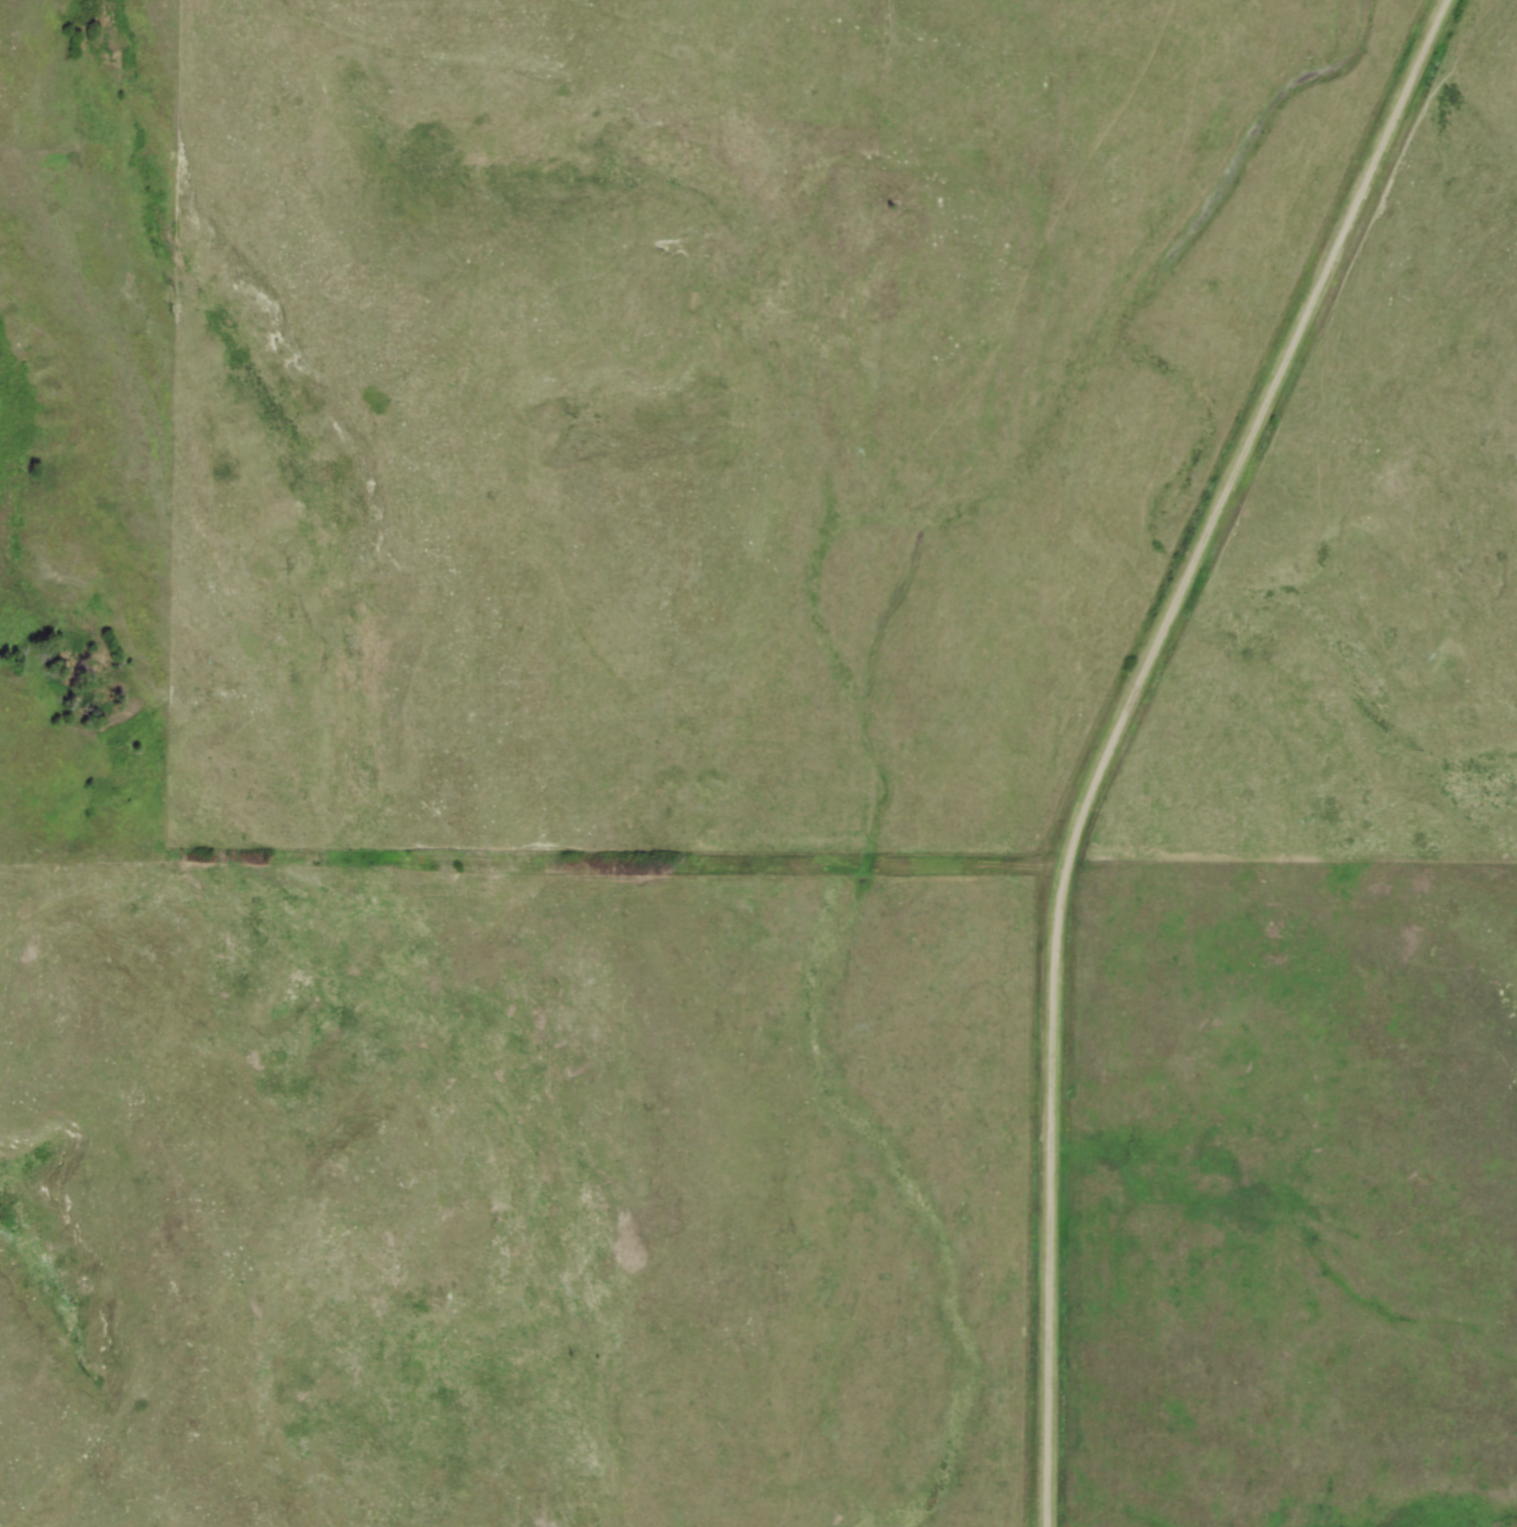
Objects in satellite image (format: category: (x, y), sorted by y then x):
road: (1113, 733)

